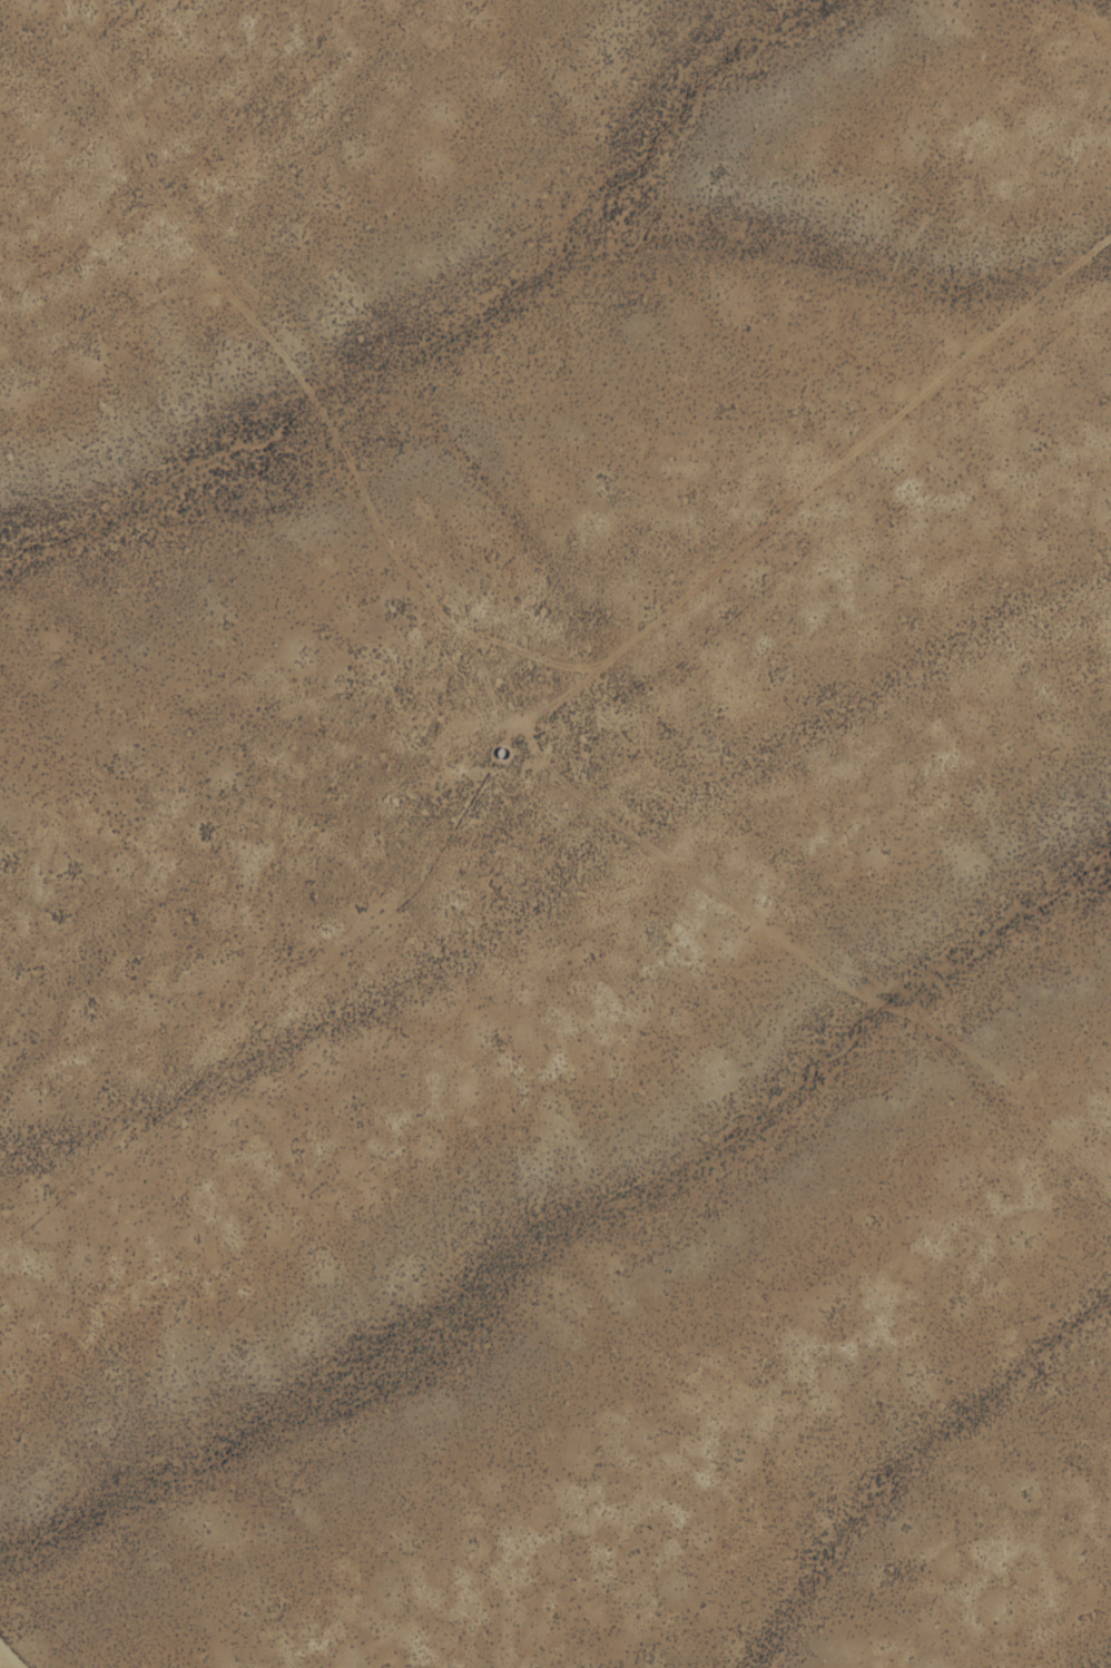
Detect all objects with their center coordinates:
road: (833, 469)
road: (7, 1659)

